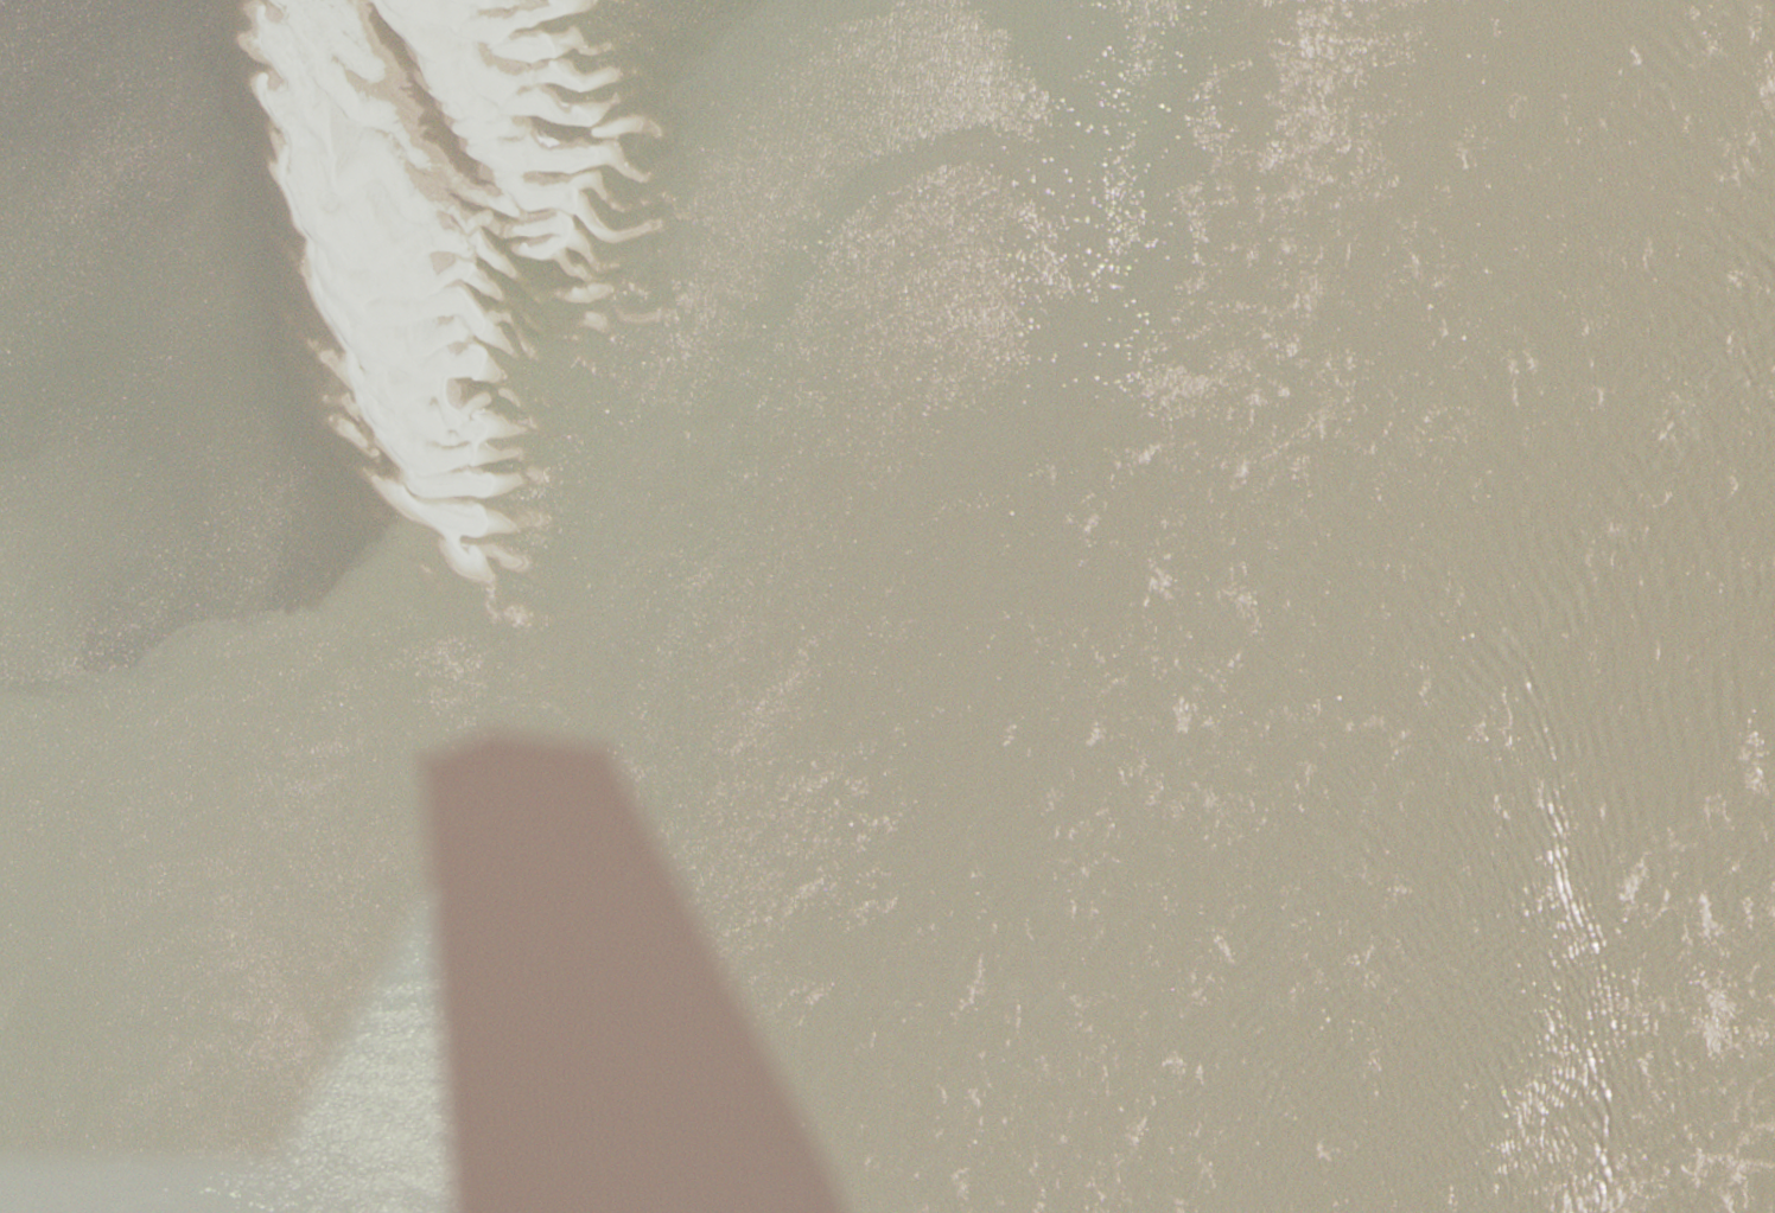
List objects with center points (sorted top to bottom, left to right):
river: (1165, 607)

